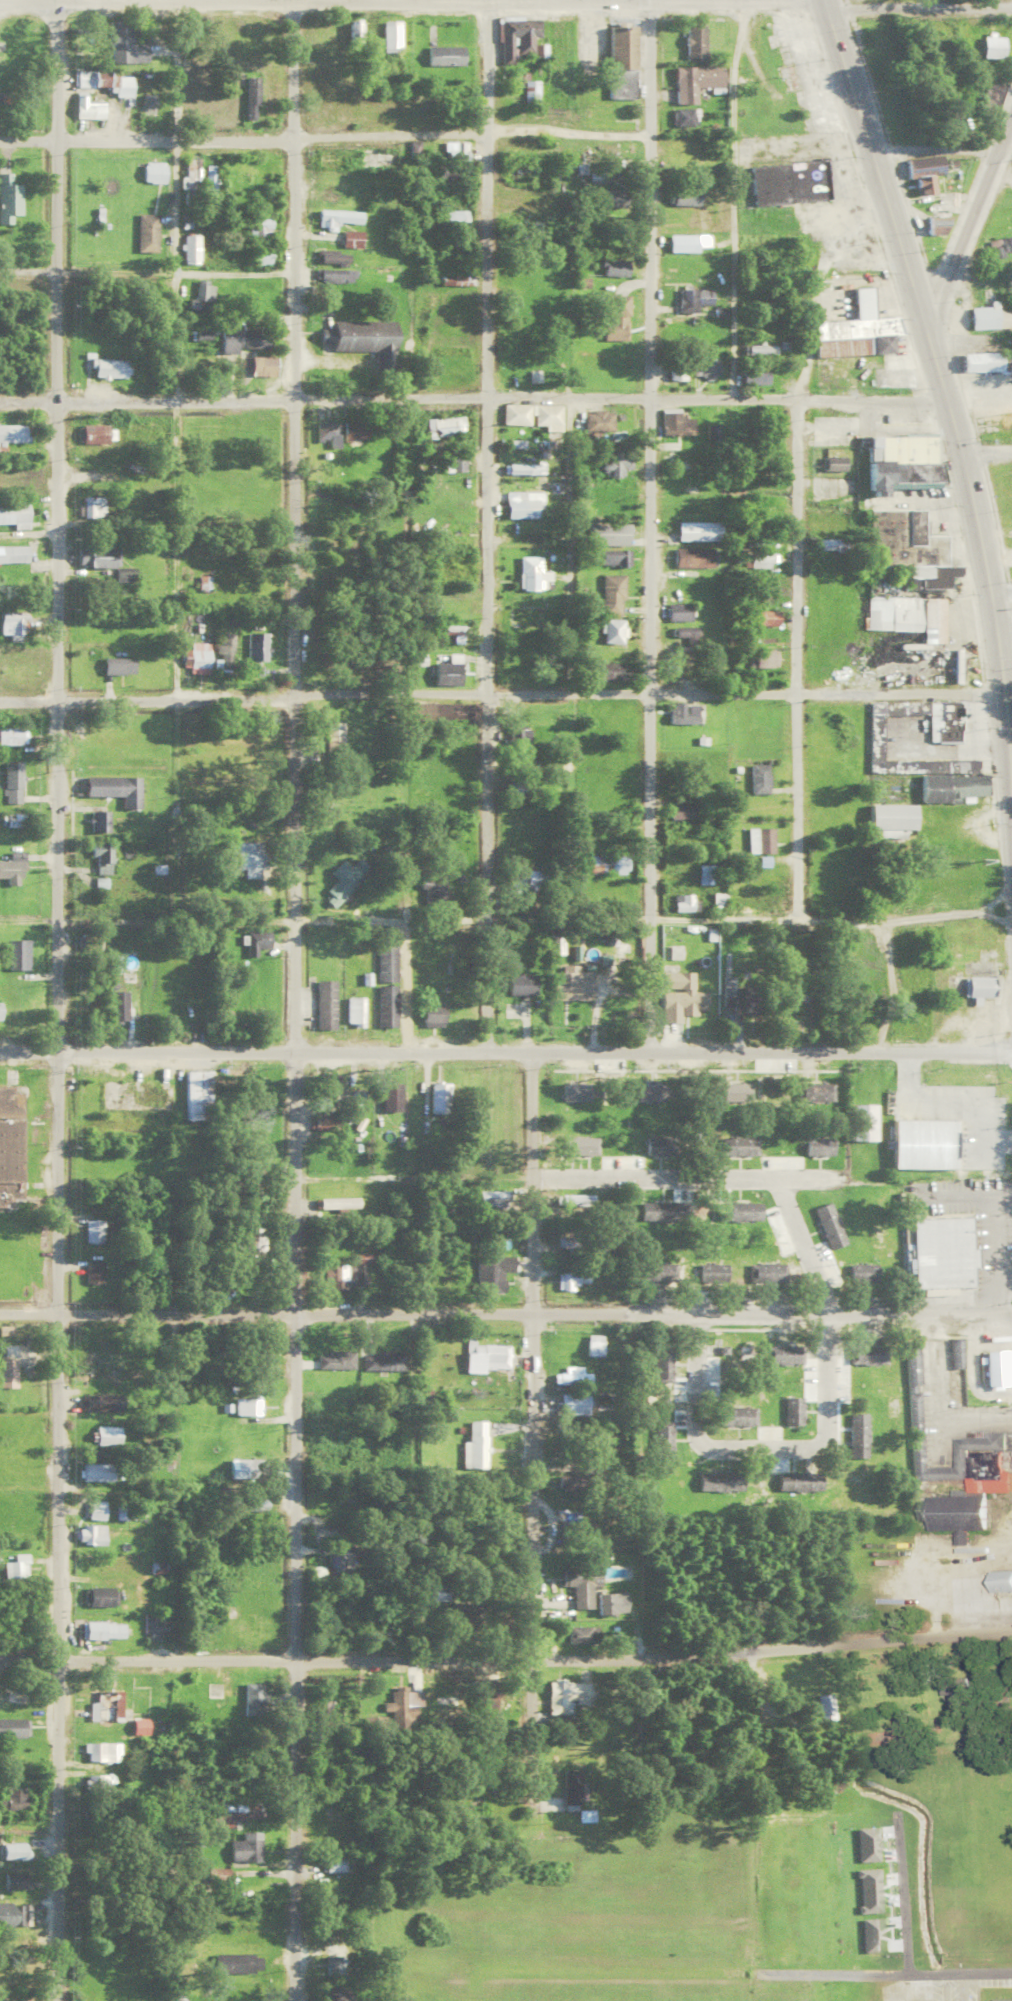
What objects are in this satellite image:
road: (917, 2)
road: (324, 133)
road: (939, 147)
road: (1011, 150)
road: (729, 196)
road: (172, 197)
road: (969, 216)
road: (145, 268)
road: (922, 317)
road: (473, 392)
road: (986, 447)
road: (484, 523)
road: (648, 523)
road: (567, 543)
road: (1005, 640)
road: (794, 654)
road: (1001, 664)
road: (648, 692)
road: (146, 696)
road: (1008, 747)
road: (506, 914)
road: (54, 1000)
road: (291, 1000)
road: (506, 1048)
road: (931, 1113)
road: (771, 1175)
road: (412, 1176)
road: (801, 1242)
road: (505, 1309)
road: (531, 1403)
road: (760, 1448)
road: (175, 1483)
road: (411, 1483)
road: (506, 1654)

